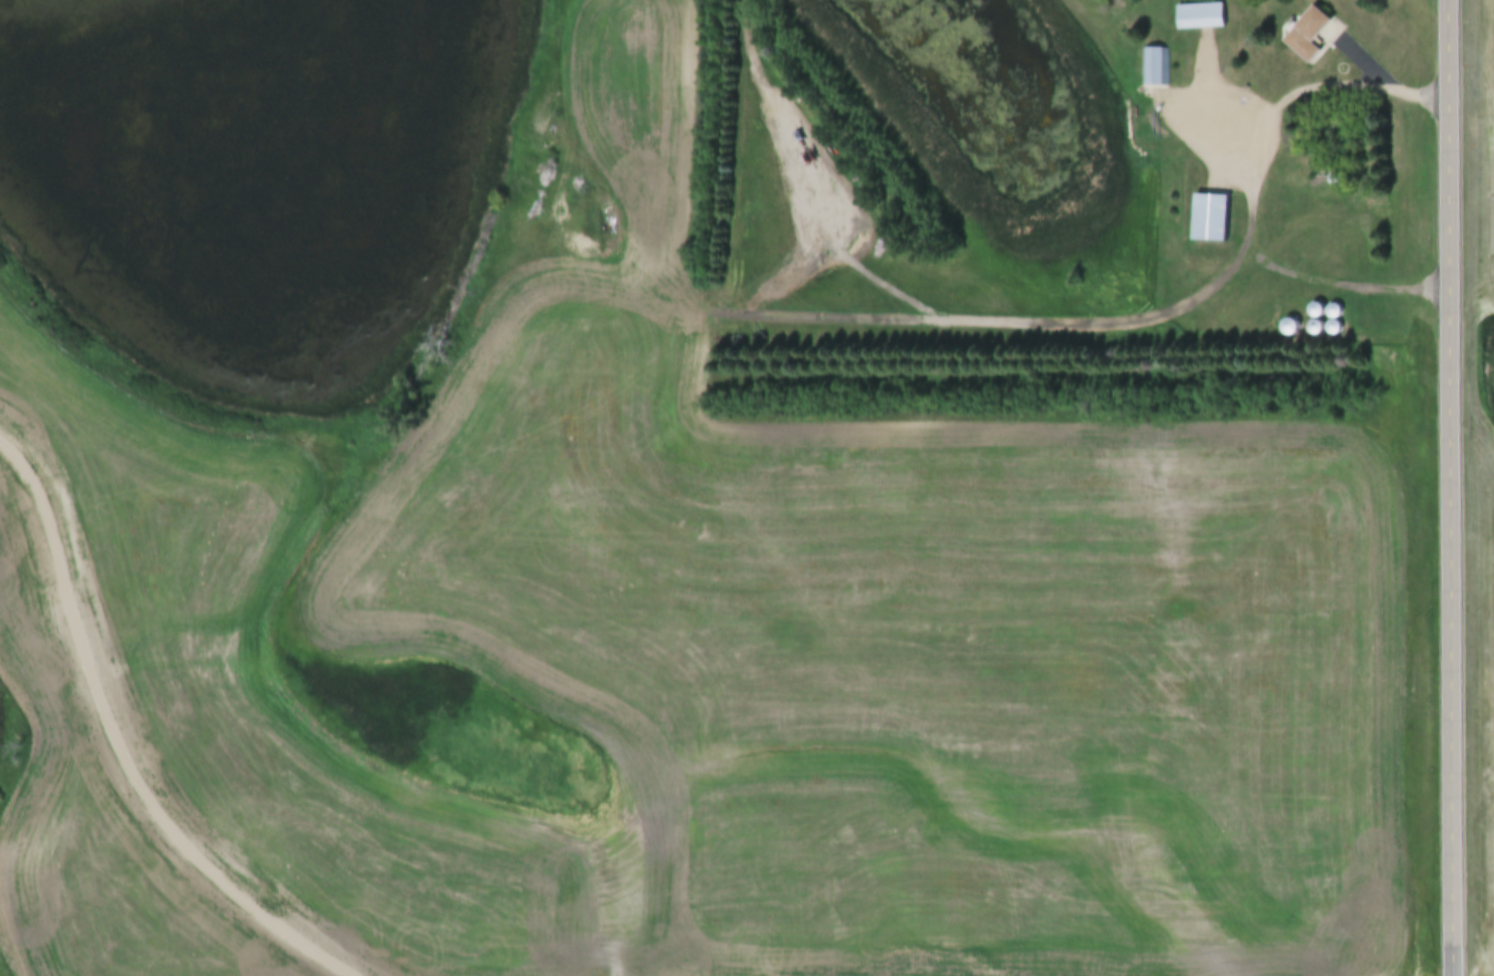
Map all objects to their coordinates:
building: (1199, 17)
building: (1310, 23)
road: (1366, 55)
building: (1153, 69)
road: (1319, 84)
building: (1209, 217)
building: (877, 249)
road: (1454, 487)
road: (112, 758)

